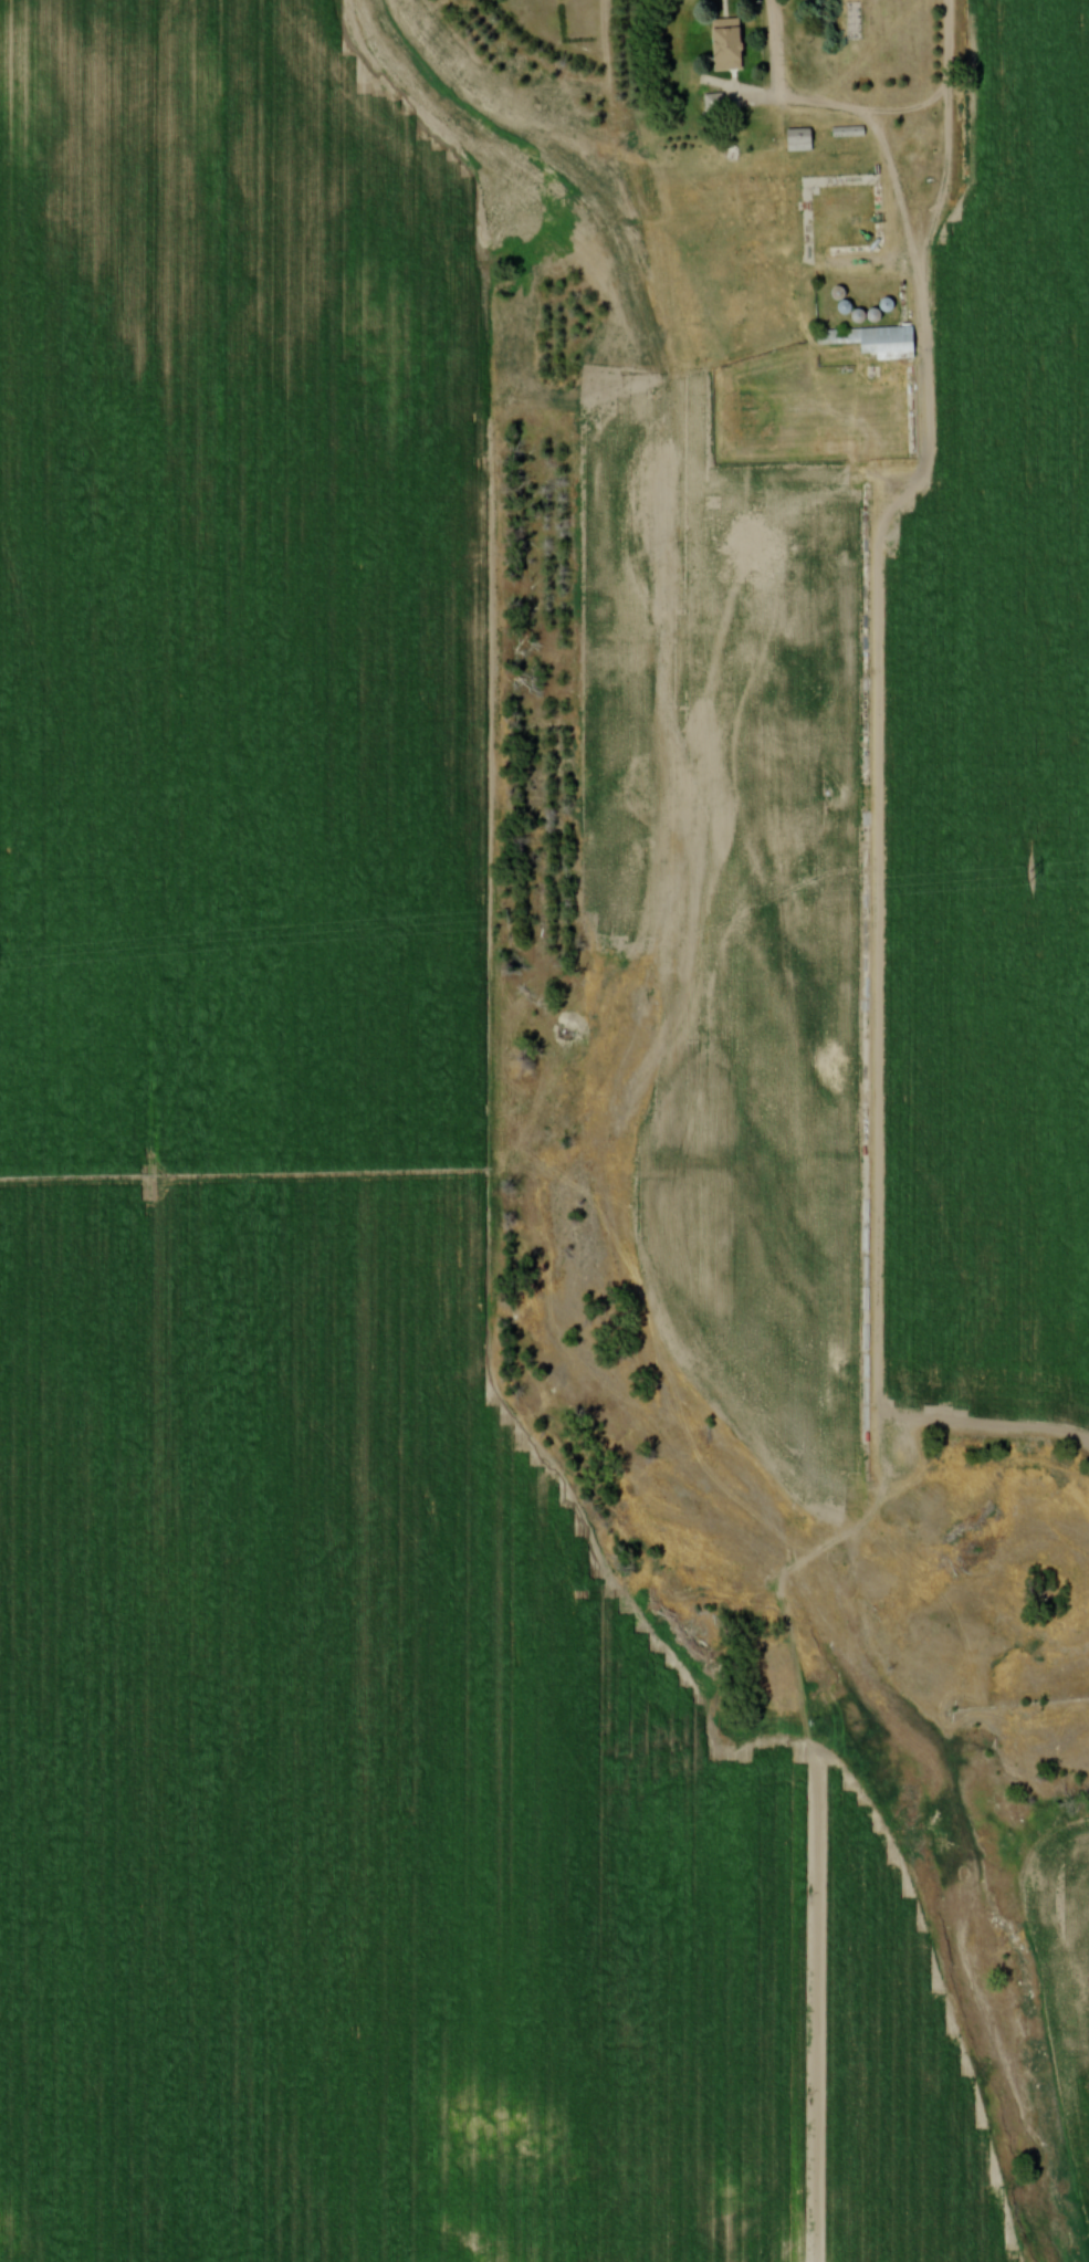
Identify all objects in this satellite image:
building: (852, 19)
building: (731, 44)
building: (715, 103)
road: (850, 106)
building: (800, 140)
building: (867, 336)
power tower: (1028, 875)
power tower: (509, 919)

